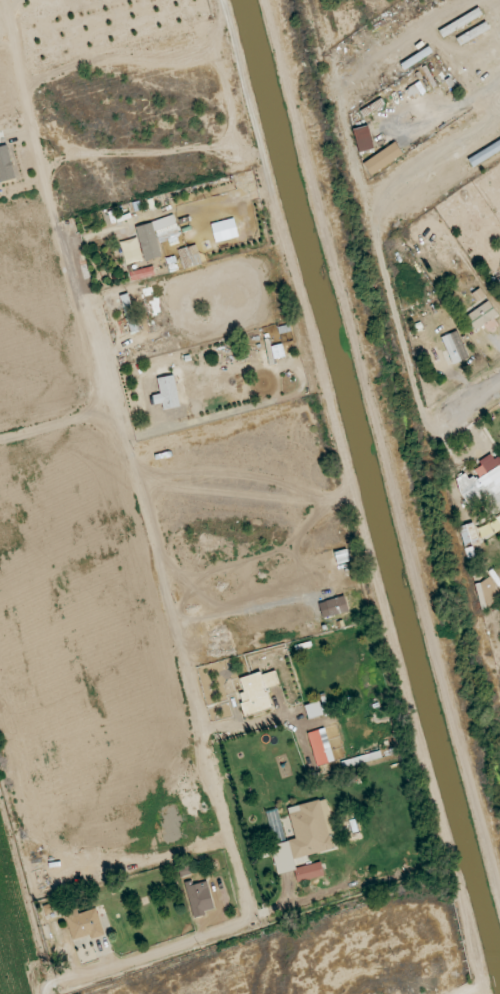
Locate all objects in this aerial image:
building: (460, 22)
building: (471, 35)
building: (478, 54)
road: (493, 75)
building: (363, 138)
building: (382, 158)
building: (6, 165)
building: (156, 236)
building: (189, 256)
building: (142, 273)
building: (480, 311)
building: (128, 313)
building: (454, 347)
building: (167, 393)
road: (480, 395)
building: (482, 484)
building: (468, 534)
road: (156, 573)
building: (487, 594)
building: (336, 606)
building: (257, 692)
building: (313, 709)
building: (318, 747)
building: (303, 839)
building: (199, 898)
building: (51, 904)
building: (84, 925)

